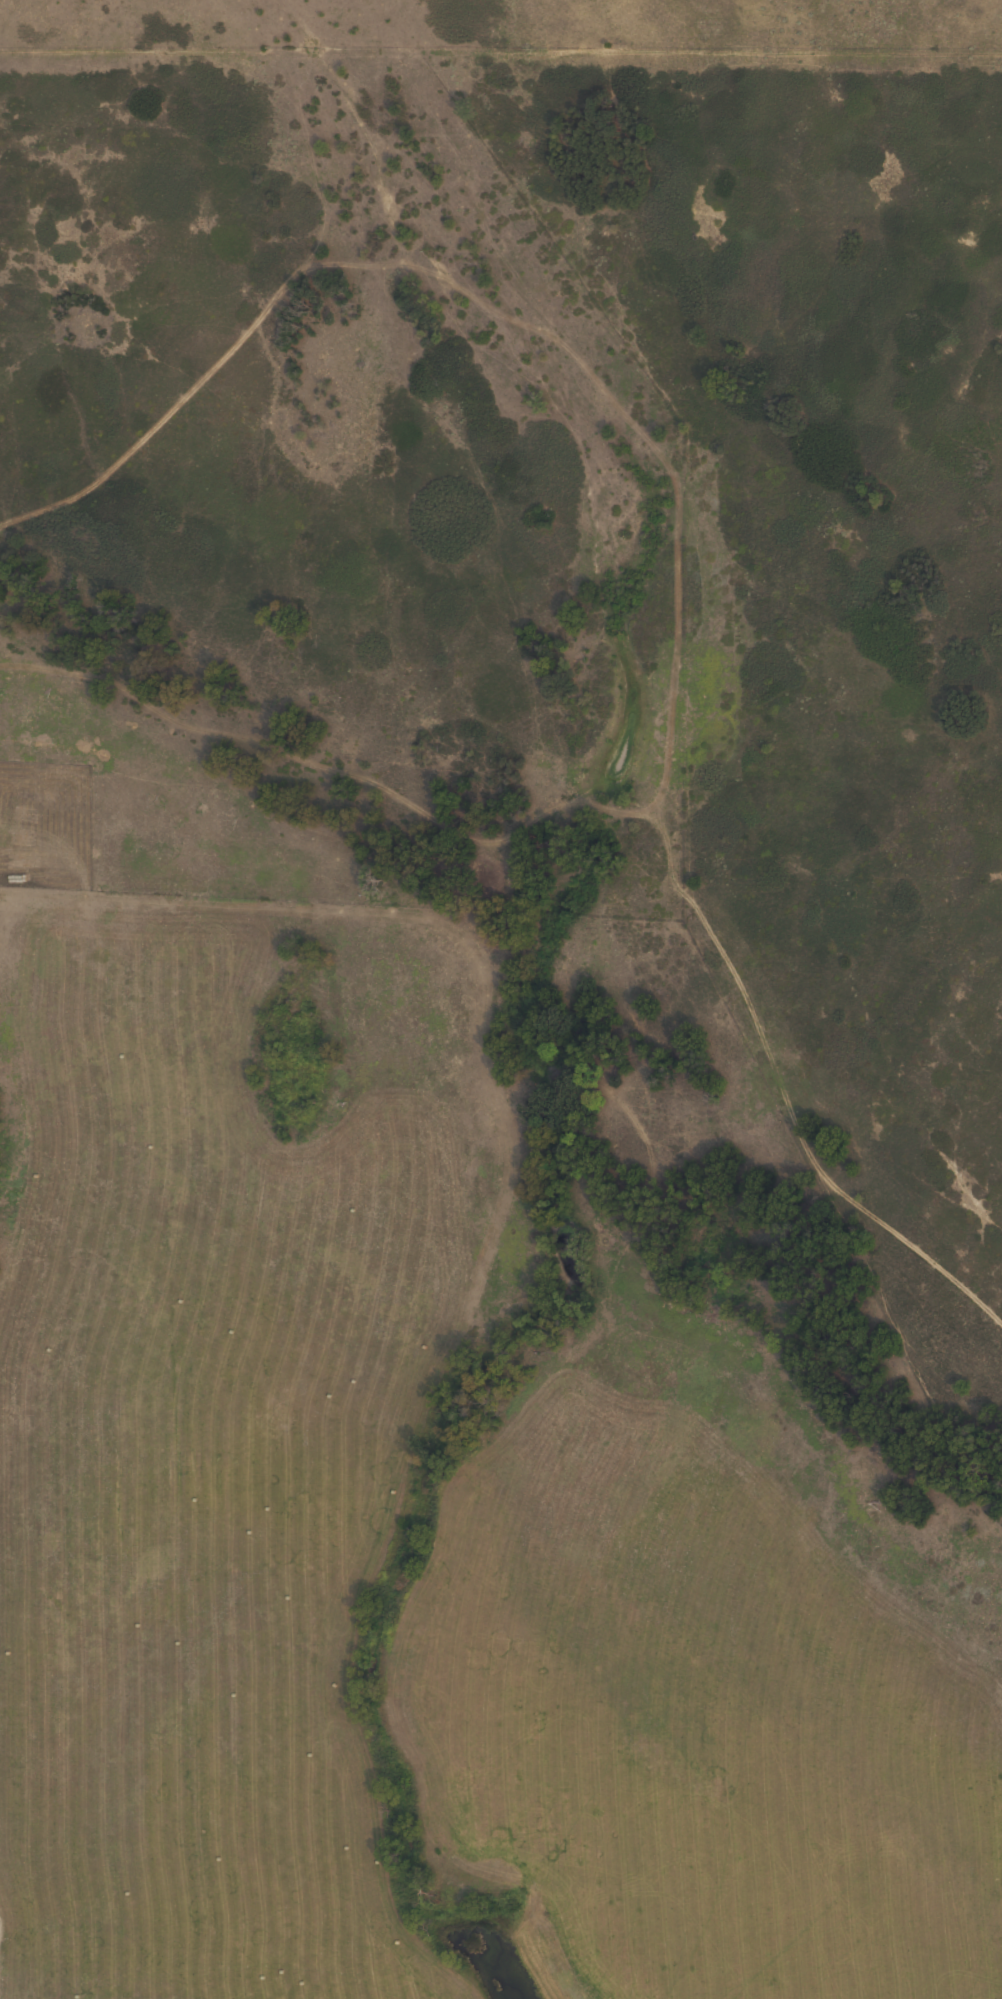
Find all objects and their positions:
road: (668, 569)

